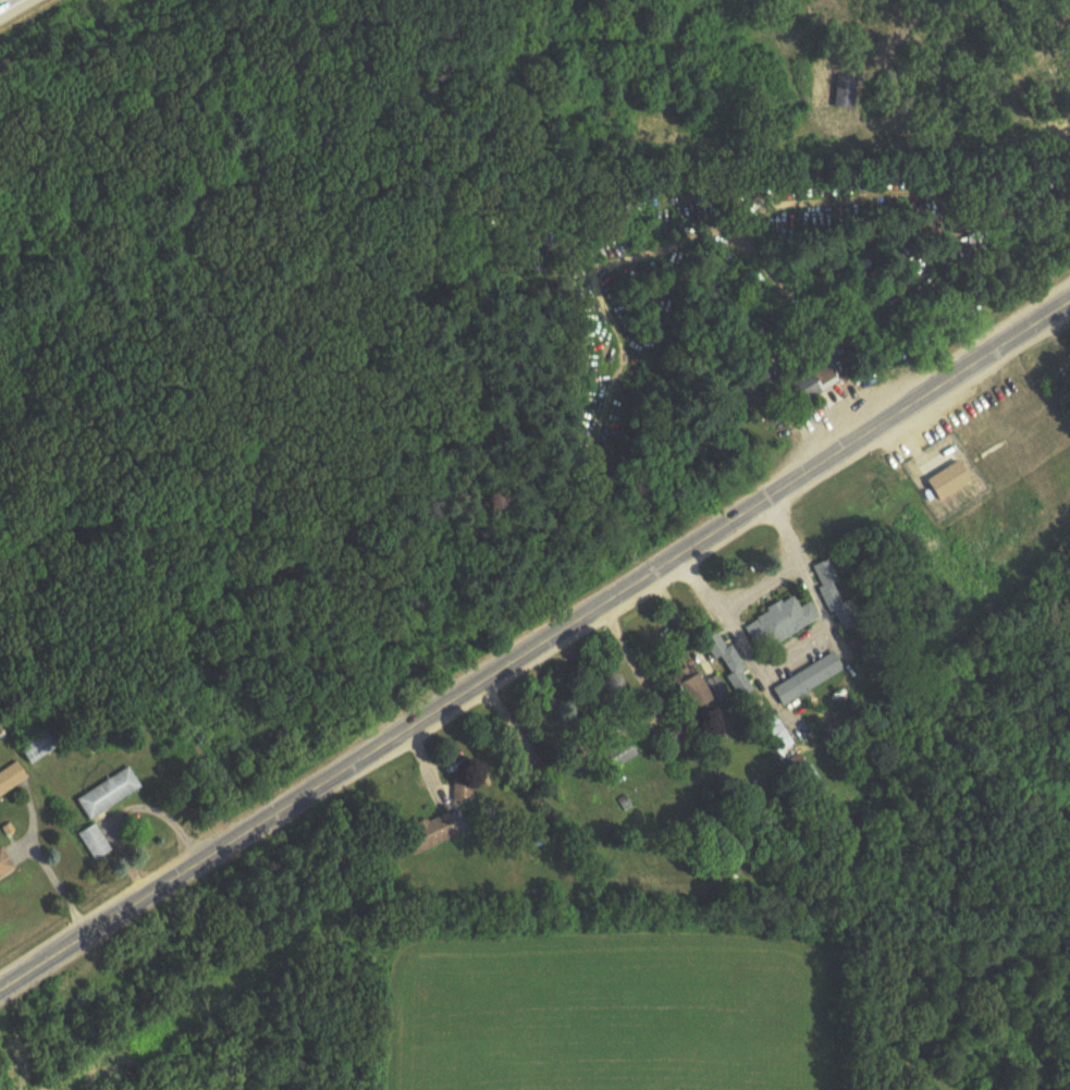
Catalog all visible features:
road: (2, 1)
building: (884, 286)
building: (816, 382)
building: (950, 481)
building: (835, 596)
road: (680, 622)
building: (779, 623)
road: (534, 647)
road: (800, 660)
building: (728, 662)
building: (808, 679)
building: (693, 689)
road: (610, 728)
building: (782, 735)
building: (39, 747)
building: (620, 754)
building: (11, 779)
building: (464, 791)
building: (110, 795)
building: (435, 833)
building: (96, 843)
building: (5, 866)

